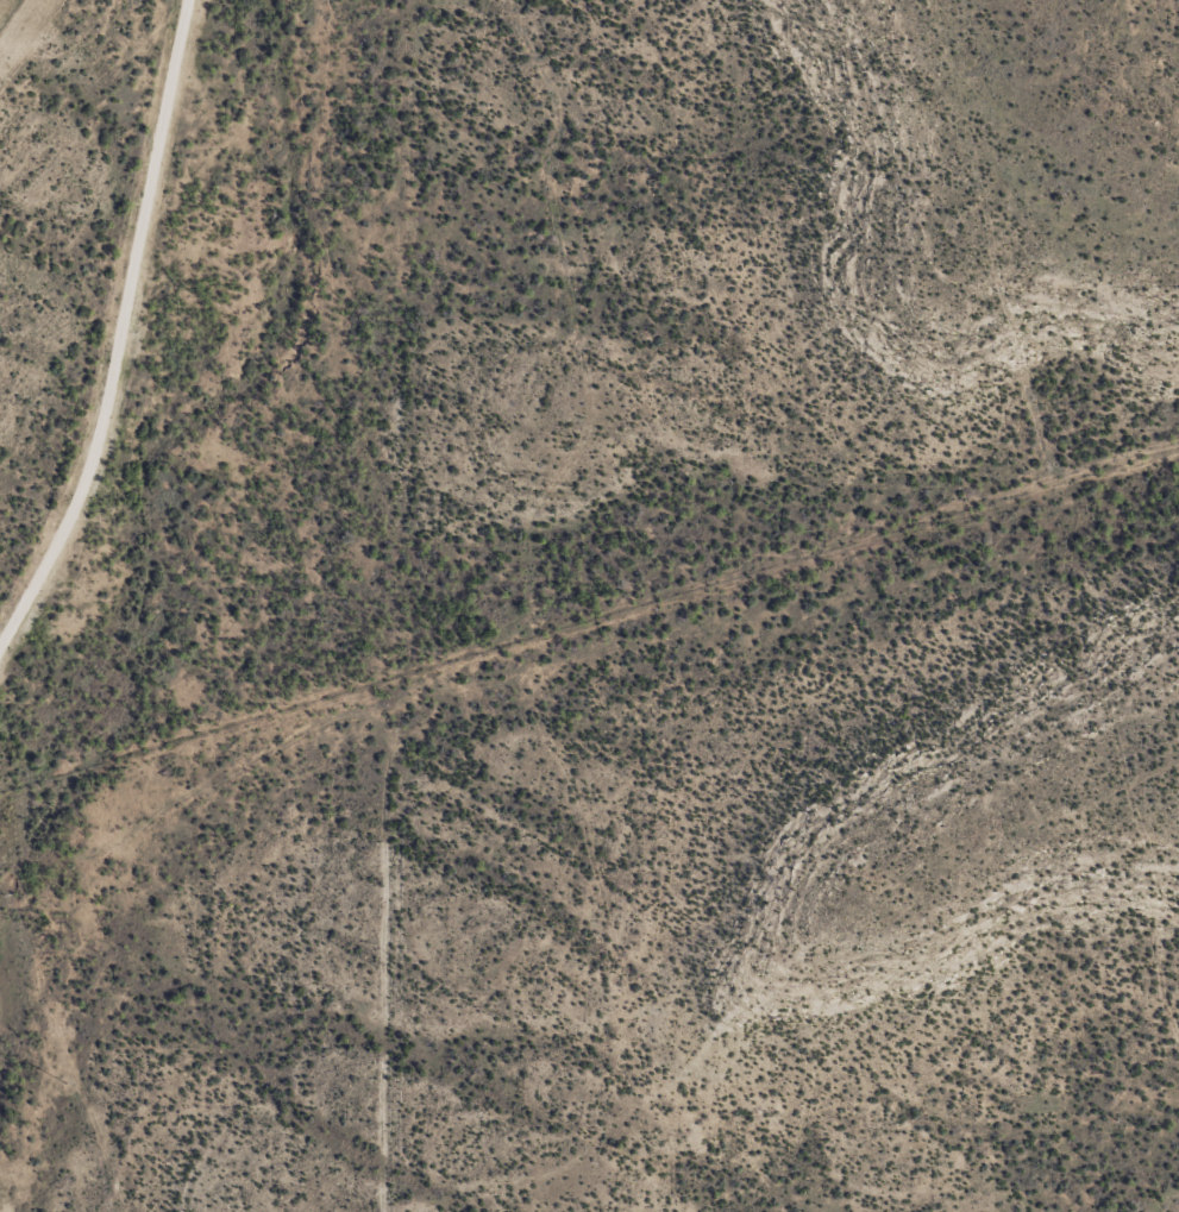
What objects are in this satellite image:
road: (89, 295)

